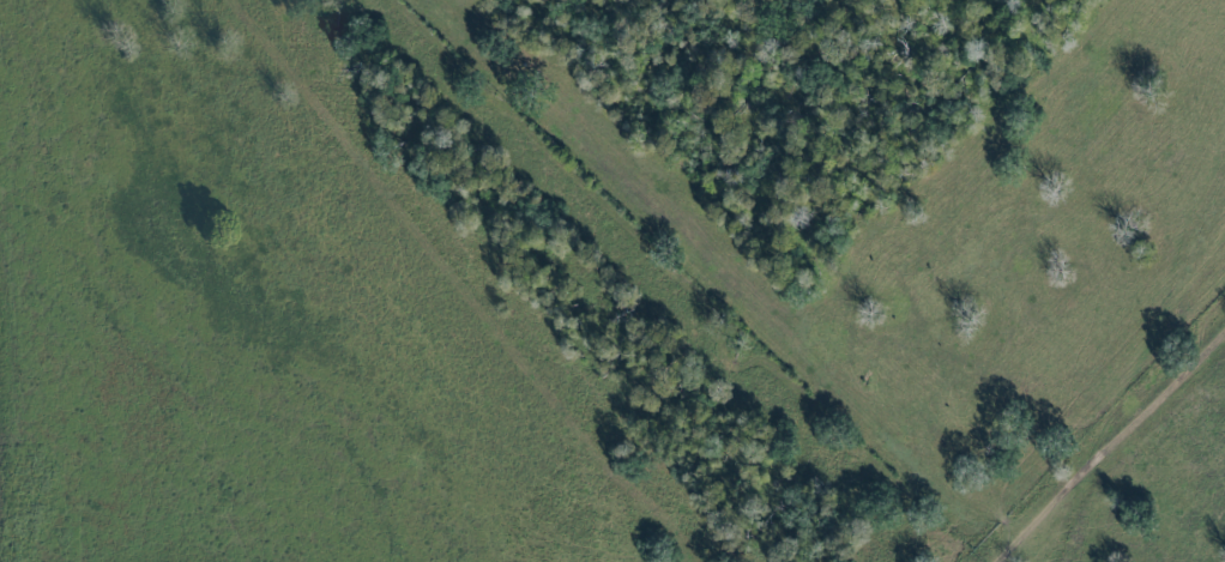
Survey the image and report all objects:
road: (1159, 392)

